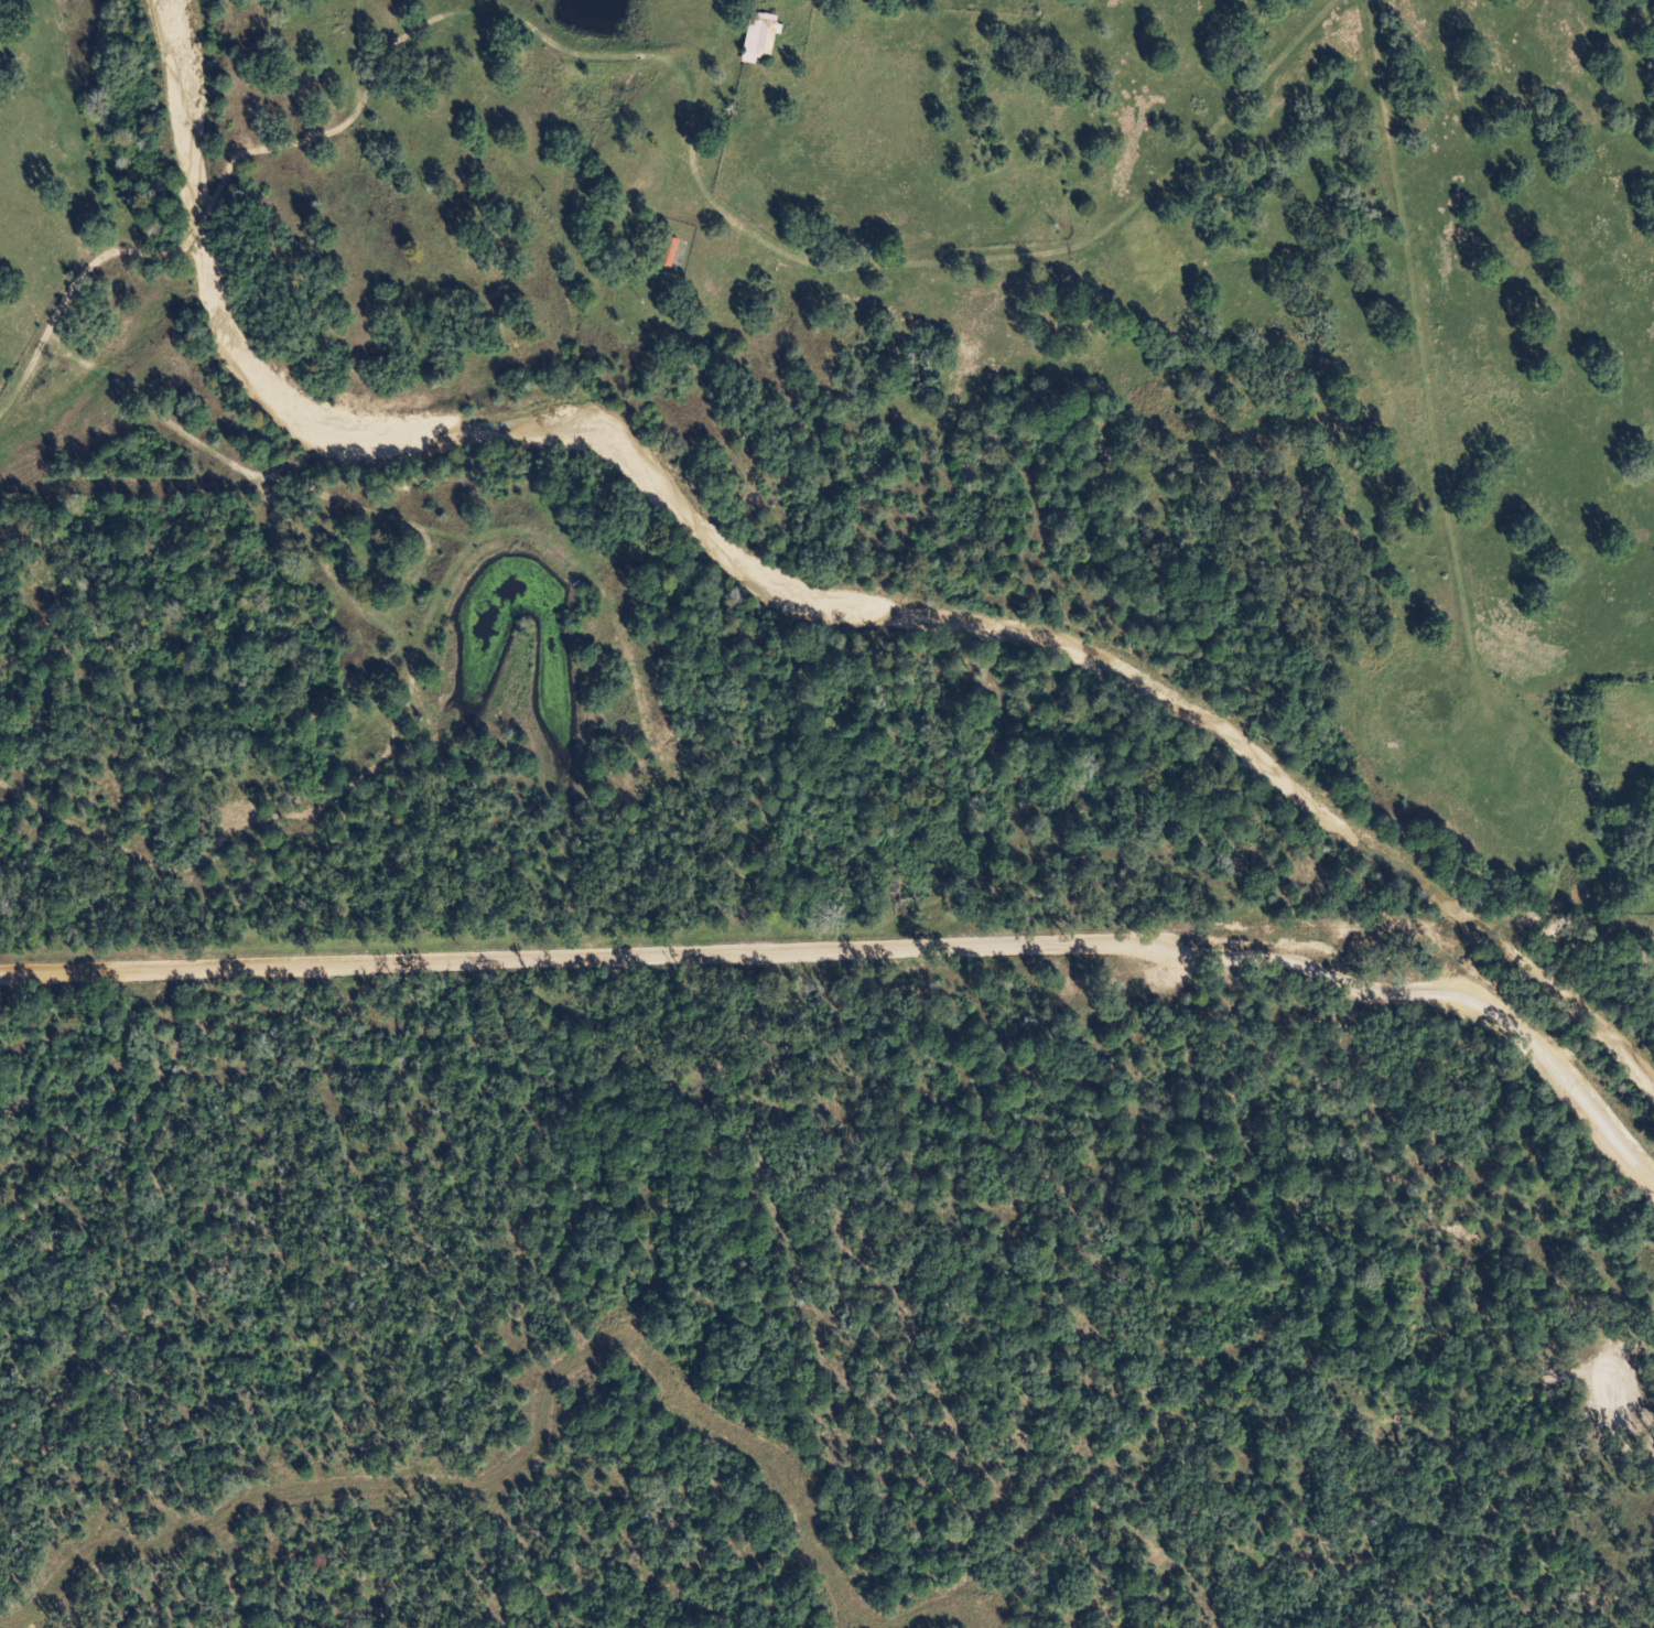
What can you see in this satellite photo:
building: (752, 35)
road: (342, 136)
road: (202, 219)
building: (667, 251)
road: (866, 257)
road: (68, 301)
road: (1436, 439)

